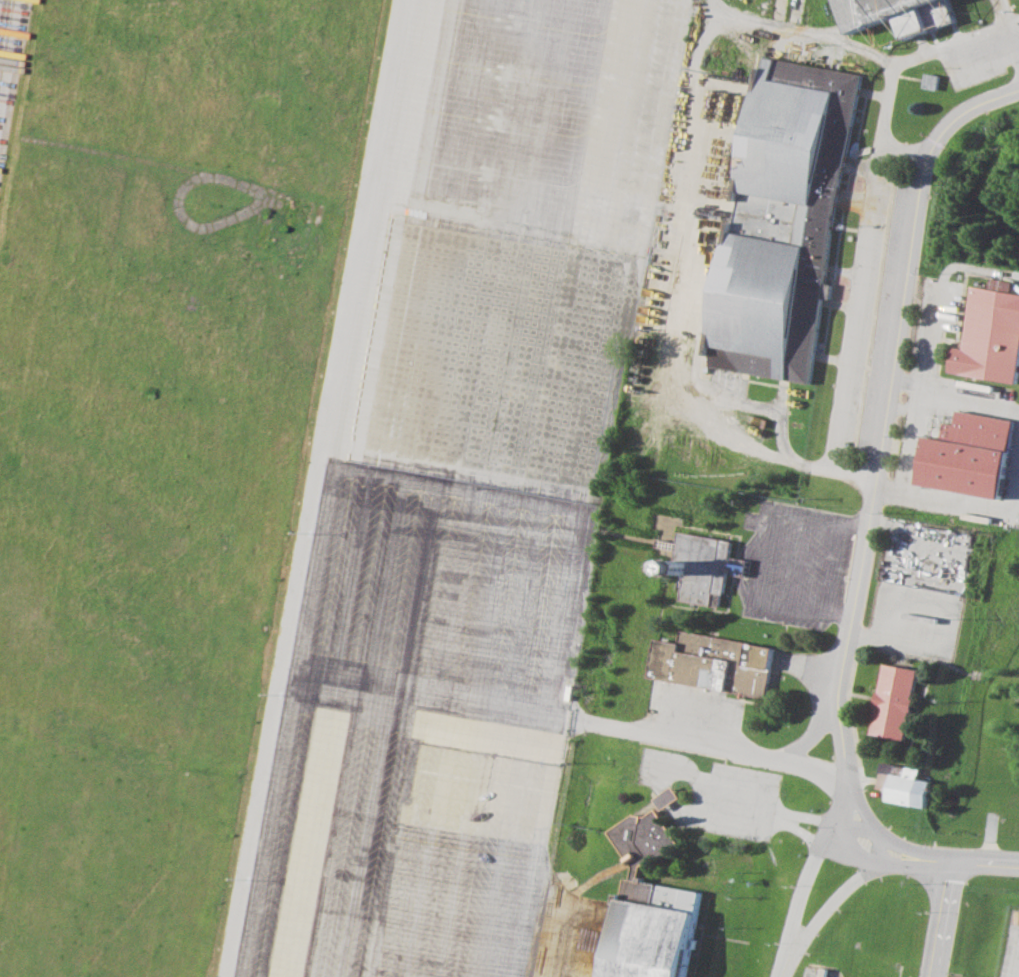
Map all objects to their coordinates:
road: (708, 10)
road: (1008, 12)
airport hangar: (903, 13)
building: (903, 13)
road: (790, 27)
road: (1016, 33)
road: (955, 43)
building: (938, 80)
airport hangar: (788, 219)
building: (788, 219)
road: (938, 299)
road: (857, 308)
building: (991, 333)
road: (954, 395)
road: (706, 422)
road: (912, 442)
building: (966, 454)
road: (875, 462)
road: (964, 506)
parking lot: (791, 563)
building: (701, 566)
parking lot: (915, 588)
building: (711, 662)
road: (806, 665)
building: (890, 700)
road: (813, 732)
road: (713, 749)
building: (901, 784)
road: (717, 791)
parking lot: (717, 796)
building: (665, 798)
road: (787, 817)
road: (835, 827)
road: (959, 860)
road: (800, 895)
road: (838, 898)
airport hangar: (646, 906)
building: (646, 906)
road: (935, 918)
road: (542, 938)
road: (789, 962)
parking lot: (814, 973)

